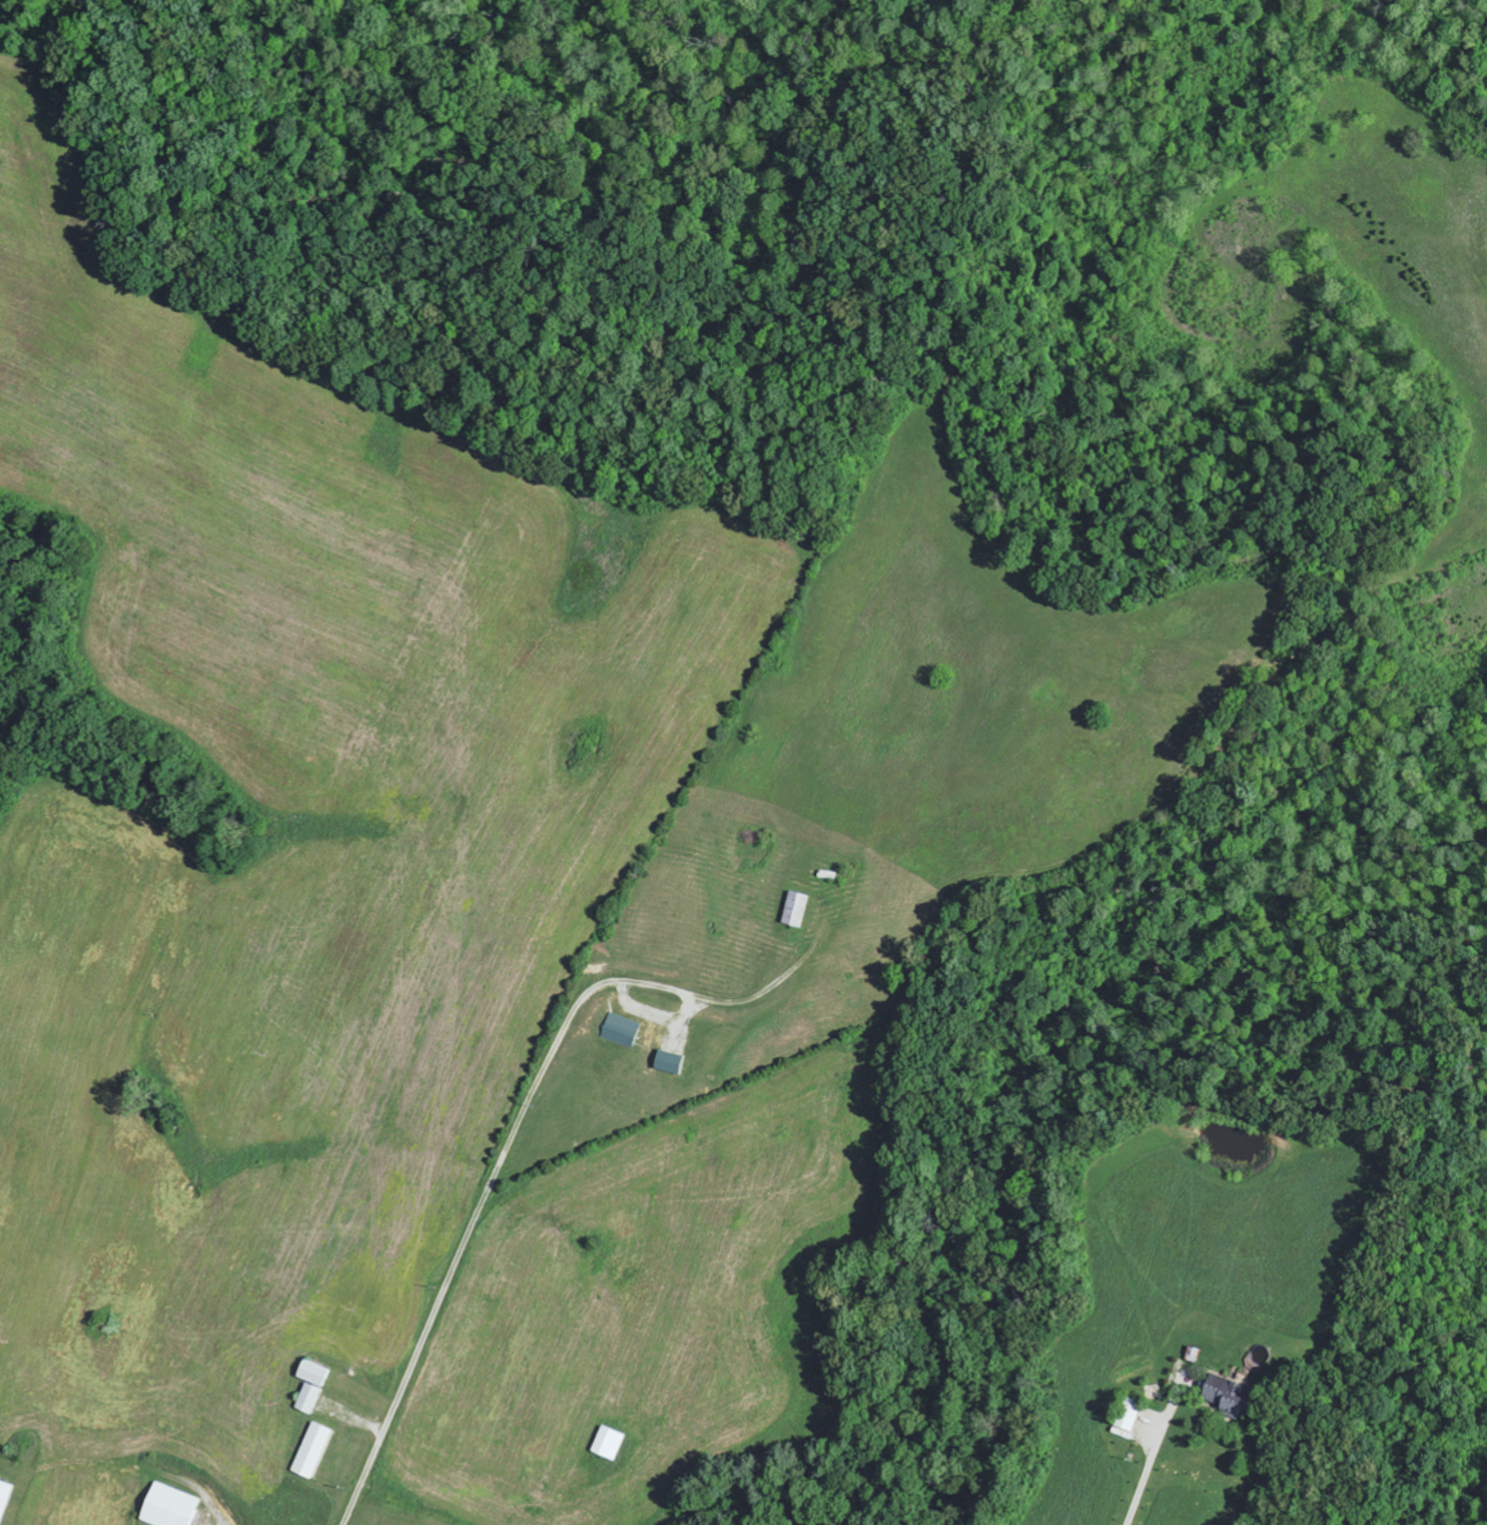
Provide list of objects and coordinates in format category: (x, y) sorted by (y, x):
building: (802, 909)
building: (626, 1031)
building: (676, 1062)
road: (456, 1248)
building: (316, 1385)
building: (1221, 1395)
building: (1124, 1414)
building: (614, 1443)
building: (317, 1450)
building: (7, 1499)
building: (176, 1507)

